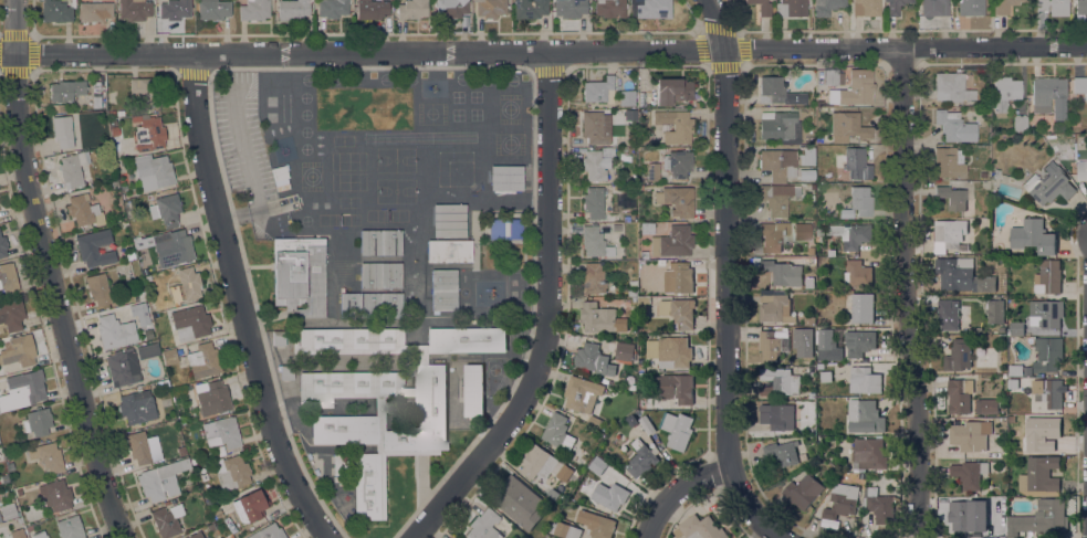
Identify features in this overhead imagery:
building: (896, 6)
building: (1004, 6)
building: (761, 7)
building: (826, 7)
building: (933, 7)
building: (970, 7)
building: (1053, 7)
building: (1080, 7)
building: (333, 8)
building: (450, 8)
building: (491, 8)
building: (530, 8)
building: (569, 8)
building: (609, 8)
building: (647, 8)
building: (791, 8)
building: (866, 8)
building: (134, 9)
building: (174, 9)
building: (292, 9)
building: (370, 9)
building: (411, 9)
building: (56, 10)
building: (213, 10)
building: (253, 10)
building: (94, 11)
road: (543, 51)
building: (830, 76)
building: (1080, 86)
building: (951, 87)
building: (599, 89)
building: (65, 91)
building: (672, 91)
building: (775, 91)
building: (856, 91)
building: (144, 92)
building: (1004, 94)
building: (95, 95)
building: (1048, 96)
building: (627, 97)
building: (821, 102)
building: (59, 108)
building: (119, 113)
building: (112, 114)
building: (630, 114)
building: (112, 122)
building: (1020, 123)
building: (675, 126)
building: (780, 126)
building: (846, 126)
building: (954, 126)
building: (663, 127)
building: (594, 128)
building: (63, 131)
building: (148, 134)
building: (811, 139)
building: (806, 156)
building: (949, 162)
building: (597, 163)
building: (678, 163)
building: (778, 163)
building: (857, 163)
building: (119, 165)
building: (72, 169)
building: (1081, 170)
building: (153, 171)
building: (652, 171)
building: (995, 172)
building: (983, 175)
building: (280, 177)
building: (505, 178)
building: (1049, 184)
building: (812, 187)
building: (777, 198)
building: (952, 198)
building: (677, 200)
building: (594, 202)
building: (857, 202)
building: (84, 210)
building: (166, 210)
building: (449, 220)
building: (124, 224)
building: (647, 225)
building: (505, 229)
building: (801, 231)
building: (773, 235)
building: (850, 235)
building: (952, 235)
building: (1033, 238)
building: (380, 242)
building: (594, 242)
building: (672, 242)
building: (2, 246)
building: (95, 247)
building: (173, 247)
building: (449, 251)
building: (1002, 260)
building: (147, 268)
road: (50, 273)
building: (783, 273)
building: (380, 274)
building: (858, 274)
building: (657, 276)
building: (682, 277)
building: (961, 277)
building: (1048, 277)
building: (8, 278)
building: (148, 278)
building: (593, 278)
road: (727, 279)
building: (633, 284)
building: (186, 285)
building: (98, 288)
building: (443, 289)
building: (633, 293)
road: (910, 293)
building: (139, 296)
building: (646, 302)
road: (242, 303)
building: (369, 305)
building: (775, 309)
building: (860, 309)
building: (994, 309)
building: (139, 314)
building: (682, 314)
building: (1045, 314)
building: (11, 315)
road: (551, 315)
building: (970, 315)
building: (947, 316)
building: (602, 319)
building: (807, 321)
building: (190, 323)
building: (1016, 329)
building: (806, 330)
building: (115, 331)
building: (278, 338)
building: (976, 338)
building: (825, 339)
building: (860, 345)
building: (772, 346)
building: (145, 350)
building: (19, 351)
building: (670, 351)
building: (958, 355)
building: (1047, 355)
building: (169, 357)
building: (603, 358)
building: (203, 360)
building: (819, 367)
building: (123, 368)
building: (640, 368)
building: (285, 371)
building: (1015, 371)
building: (365, 372)
building: (825, 377)
building: (865, 381)
building: (780, 383)
building: (1013, 383)
building: (677, 388)
building: (22, 390)
building: (473, 391)
building: (1049, 392)
building: (582, 394)
building: (812, 395)
building: (959, 395)
building: (211, 397)
building: (990, 407)
building: (136, 408)
building: (777, 416)
building: (865, 418)
building: (631, 420)
building: (1011, 420)
building: (35, 422)
building: (595, 422)
building: (1001, 423)
building: (647, 425)
building: (678, 431)
building: (221, 432)
building: (557, 432)
building: (1042, 434)
building: (970, 436)
building: (144, 447)
building: (220, 450)
building: (184, 451)
building: (782, 453)
building: (870, 453)
building: (7, 456)
building: (48, 456)
building: (641, 460)
building: (537, 463)
building: (339, 464)
building: (572, 471)
building: (231, 472)
building: (969, 474)
building: (1039, 475)
building: (861, 476)
building: (3, 478)
building: (161, 479)
building: (803, 492)
building: (19, 493)
road: (678, 493)
building: (55, 495)
building: (509, 495)
building: (614, 495)
building: (839, 504)
building: (250, 506)
building: (880, 507)
building: (8, 510)
building: (218, 514)
building: (962, 515)
building: (1047, 517)
building: (0, 520)
building: (167, 520)
building: (596, 524)
building: (483, 525)
building: (210, 526)
building: (70, 527)
building: (699, 528)
building: (29, 529)
building: (565, 530)
building: (268, 531)
building: (17, 534)
building: (1010, 534)
building: (39, 535)
building: (196, 535)

